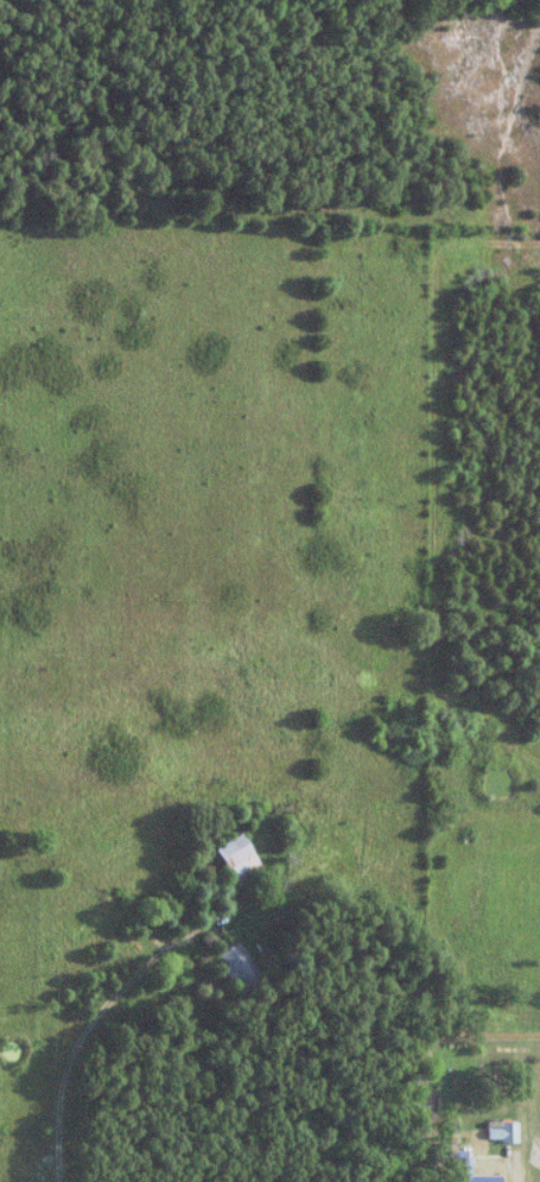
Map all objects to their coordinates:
building: (243, 859)
building: (246, 967)
road: (115, 1012)

